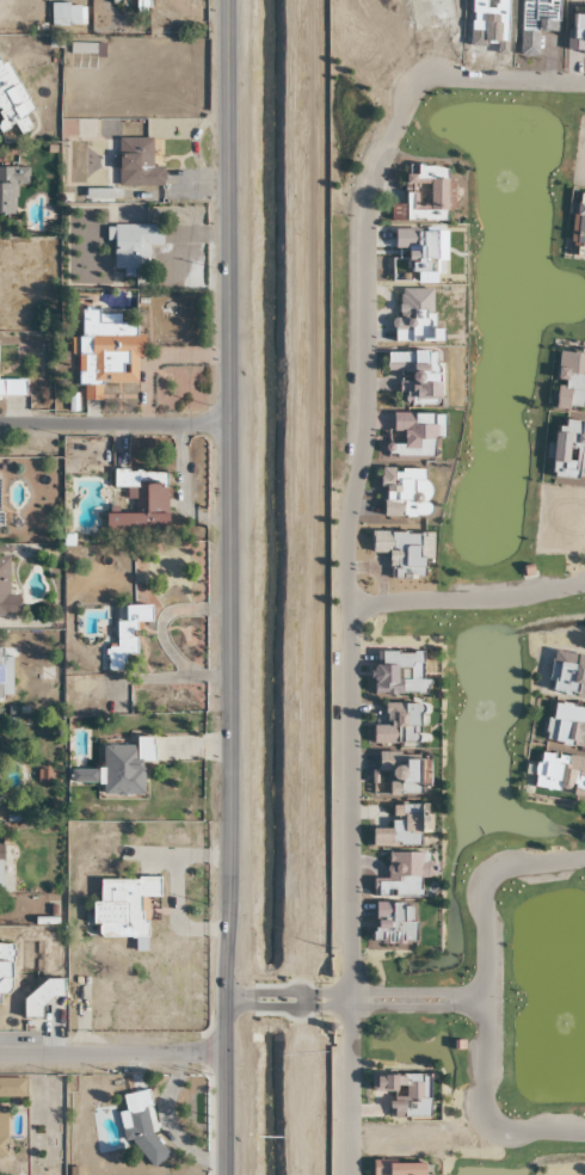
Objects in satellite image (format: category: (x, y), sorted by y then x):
road: (504, 79)
building: (12, 103)
building: (137, 165)
building: (10, 187)
building: (134, 246)
building: (105, 349)
building: (12, 388)
road: (115, 424)
building: (136, 500)
building: (4, 586)
road: (230, 587)
road: (466, 598)
road: (345, 616)
building: (123, 635)
building: (5, 677)
building: (124, 768)
building: (0, 857)
building: (123, 906)
building: (5, 967)
road: (411, 991)
road: (247, 998)
road: (265, 998)
road: (325, 999)
road: (475, 999)
road: (297, 1001)
road: (345, 1001)
road: (491, 1002)
road: (412, 1008)
road: (115, 1054)
building: (11, 1087)
building: (2, 1130)
building: (398, 1168)

